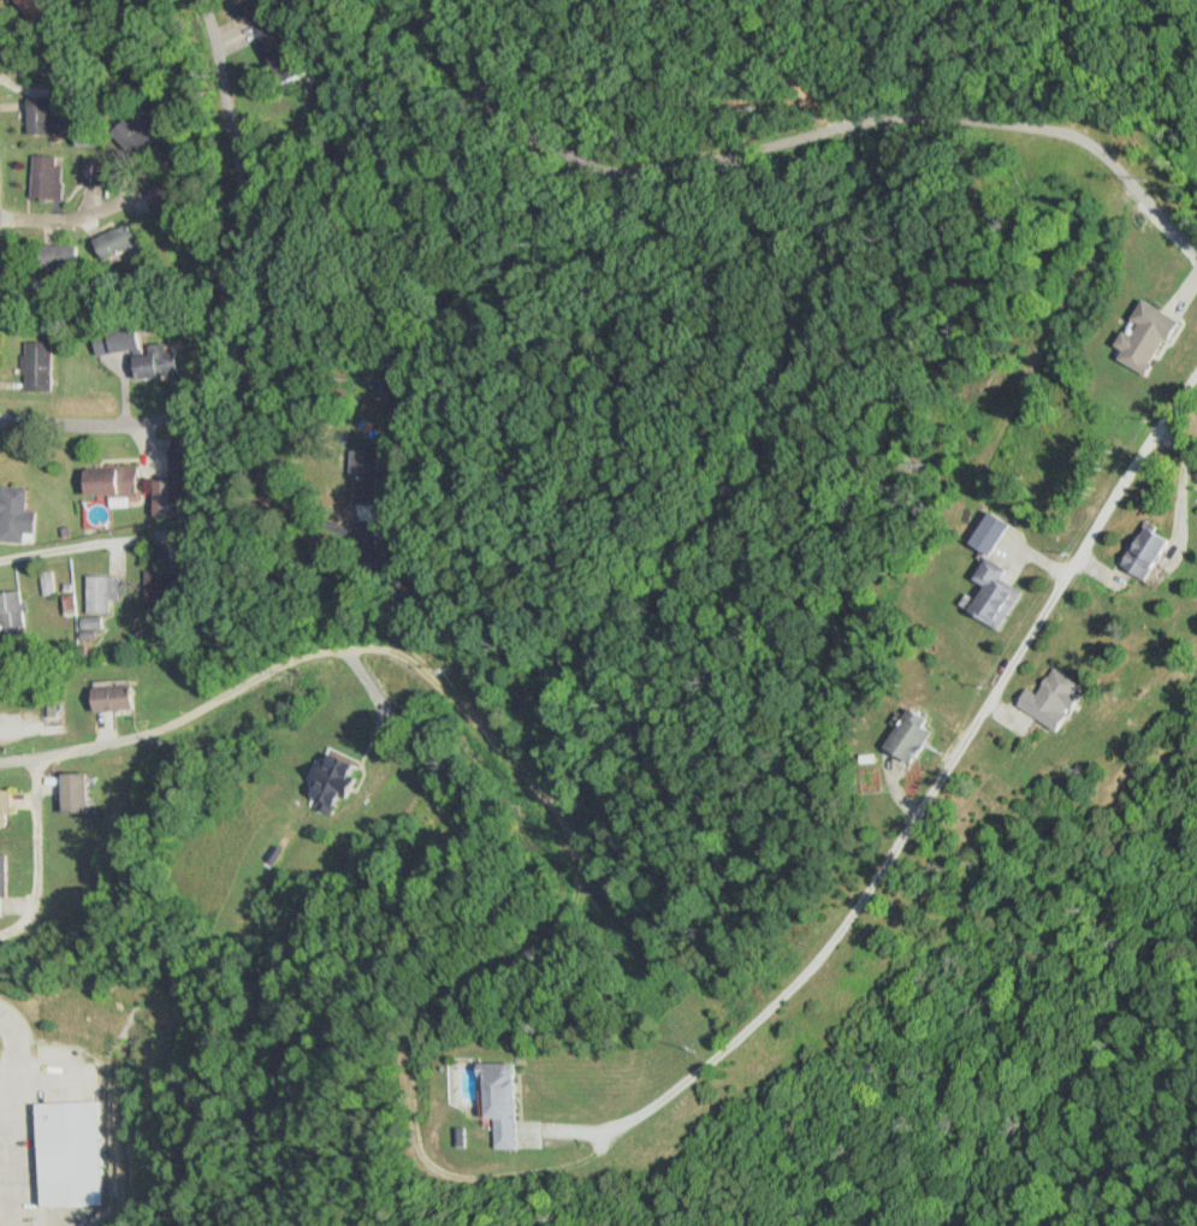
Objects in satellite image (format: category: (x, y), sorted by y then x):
building: (283, 43)
road: (487, 101)
building: (37, 116)
road: (926, 116)
building: (129, 132)
building: (47, 177)
road: (72, 213)
road: (244, 226)
building: (115, 242)
building: (53, 256)
building: (1144, 337)
building: (142, 356)
building: (38, 367)
road: (79, 419)
building: (373, 473)
building: (108, 481)
building: (16, 515)
road: (306, 522)
building: (1140, 552)
building: (102, 594)
building: (992, 594)
building: (11, 610)
building: (90, 622)
building: (109, 700)
building: (1049, 700)
road: (194, 716)
building: (907, 736)
building: (332, 782)
road: (935, 786)
building: (73, 794)
building: (4, 809)
building: (2, 884)
road: (438, 954)
road: (5, 1060)
road: (45, 1071)
building: (484, 1106)
building: (63, 1153)
road: (4, 1163)

